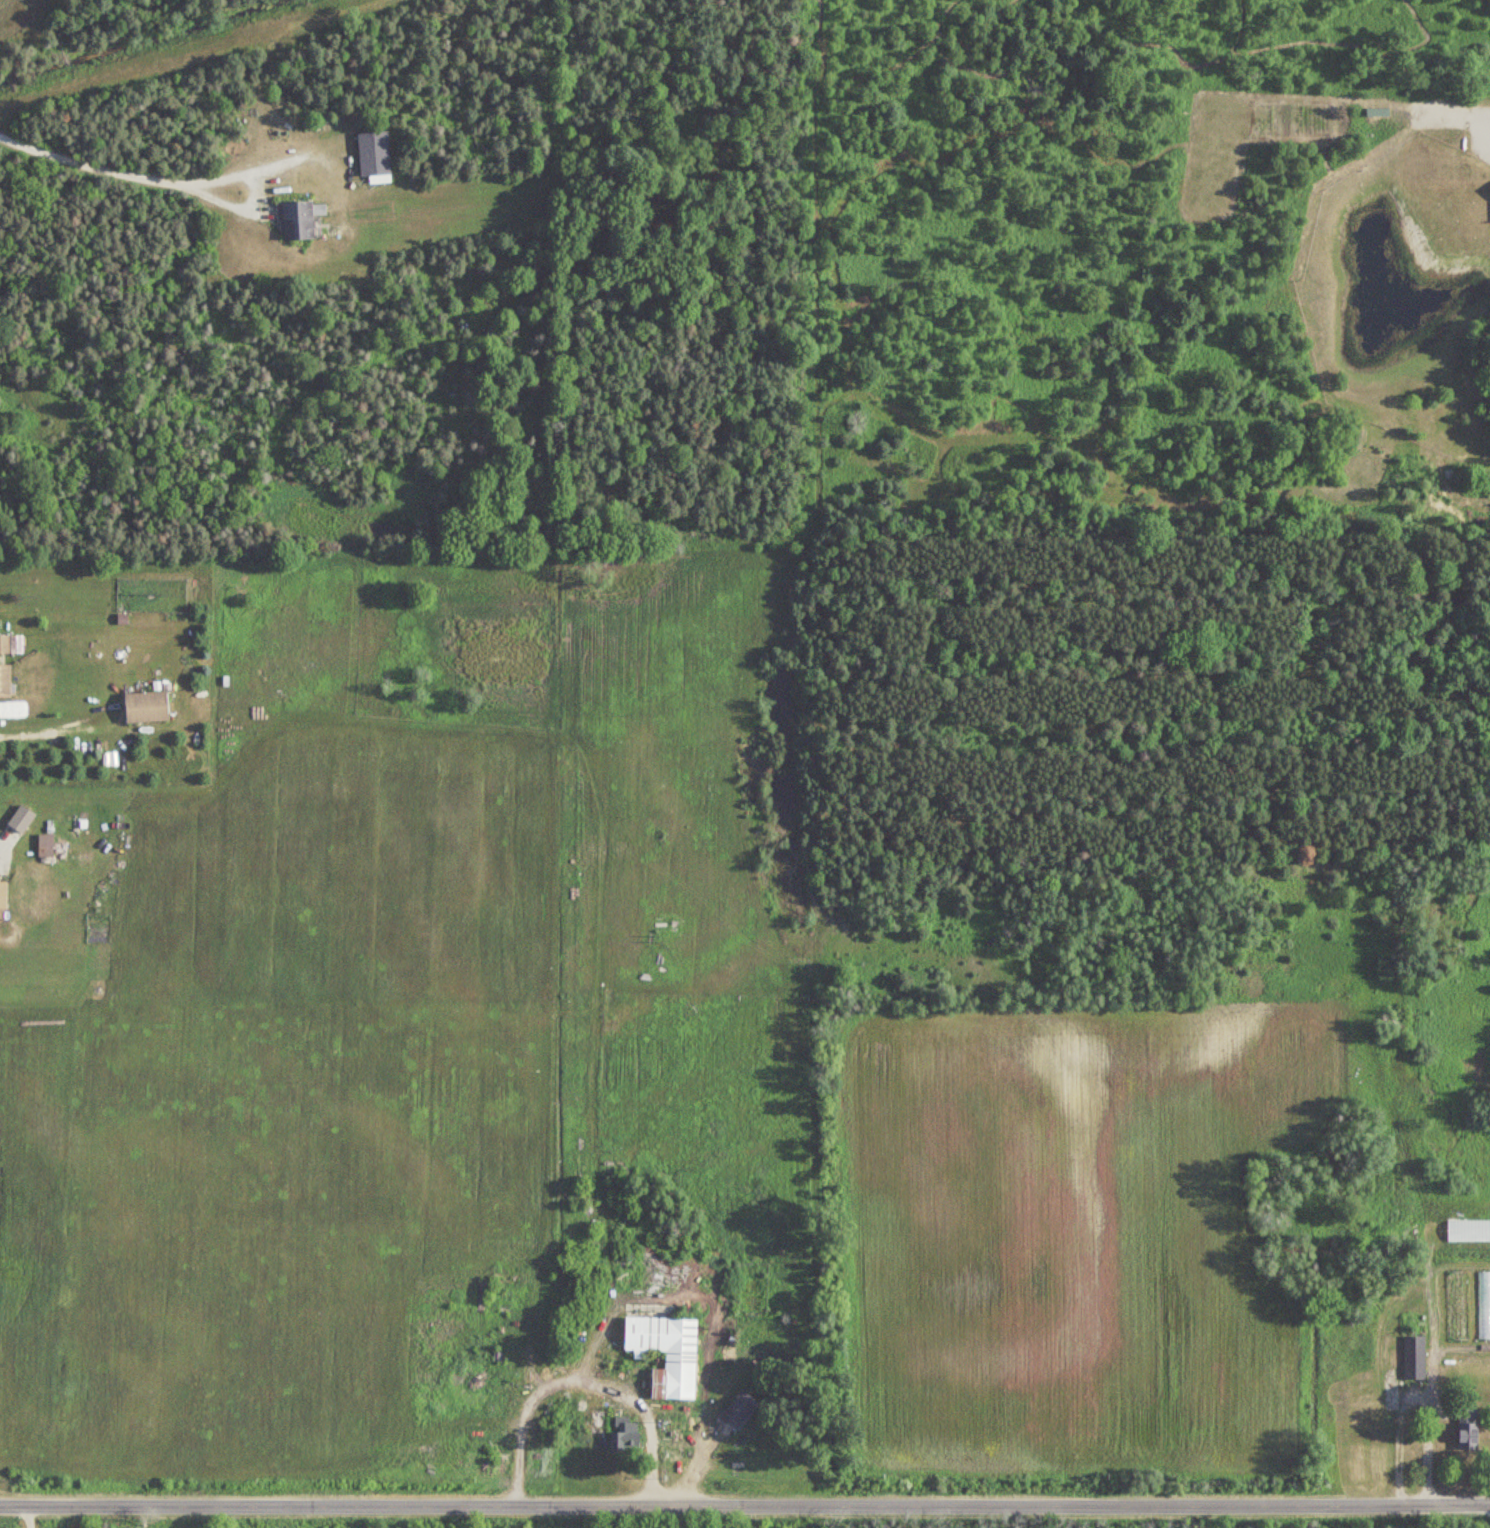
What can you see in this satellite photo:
building: (1378, 112)
building: (376, 157)
road: (112, 167)
building: (297, 221)
building: (5, 645)
building: (5, 682)
building: (148, 707)
road: (29, 732)
building: (47, 846)
building: (4, 899)
building: (1469, 1231)
building: (1484, 1306)
building: (1457, 1307)
building: (667, 1354)
building: (1415, 1358)
road: (581, 1380)
building: (741, 1410)
building: (626, 1435)
building: (1469, 1435)
road: (1429, 1443)
road: (745, 1502)
road: (29, 1516)

